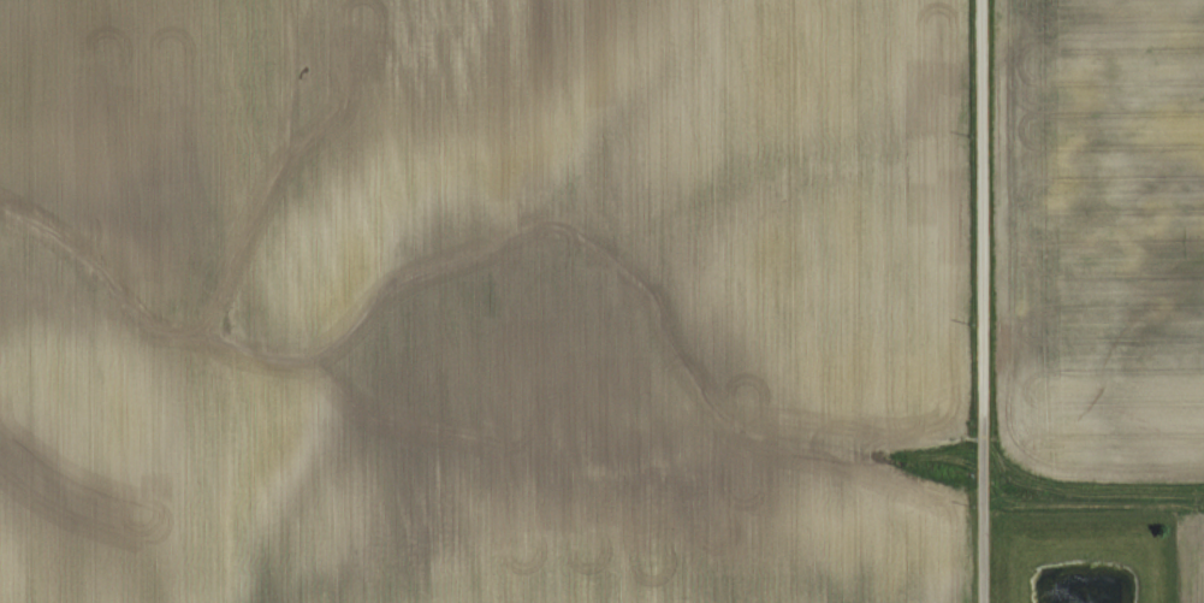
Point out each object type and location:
road: (984, 301)

